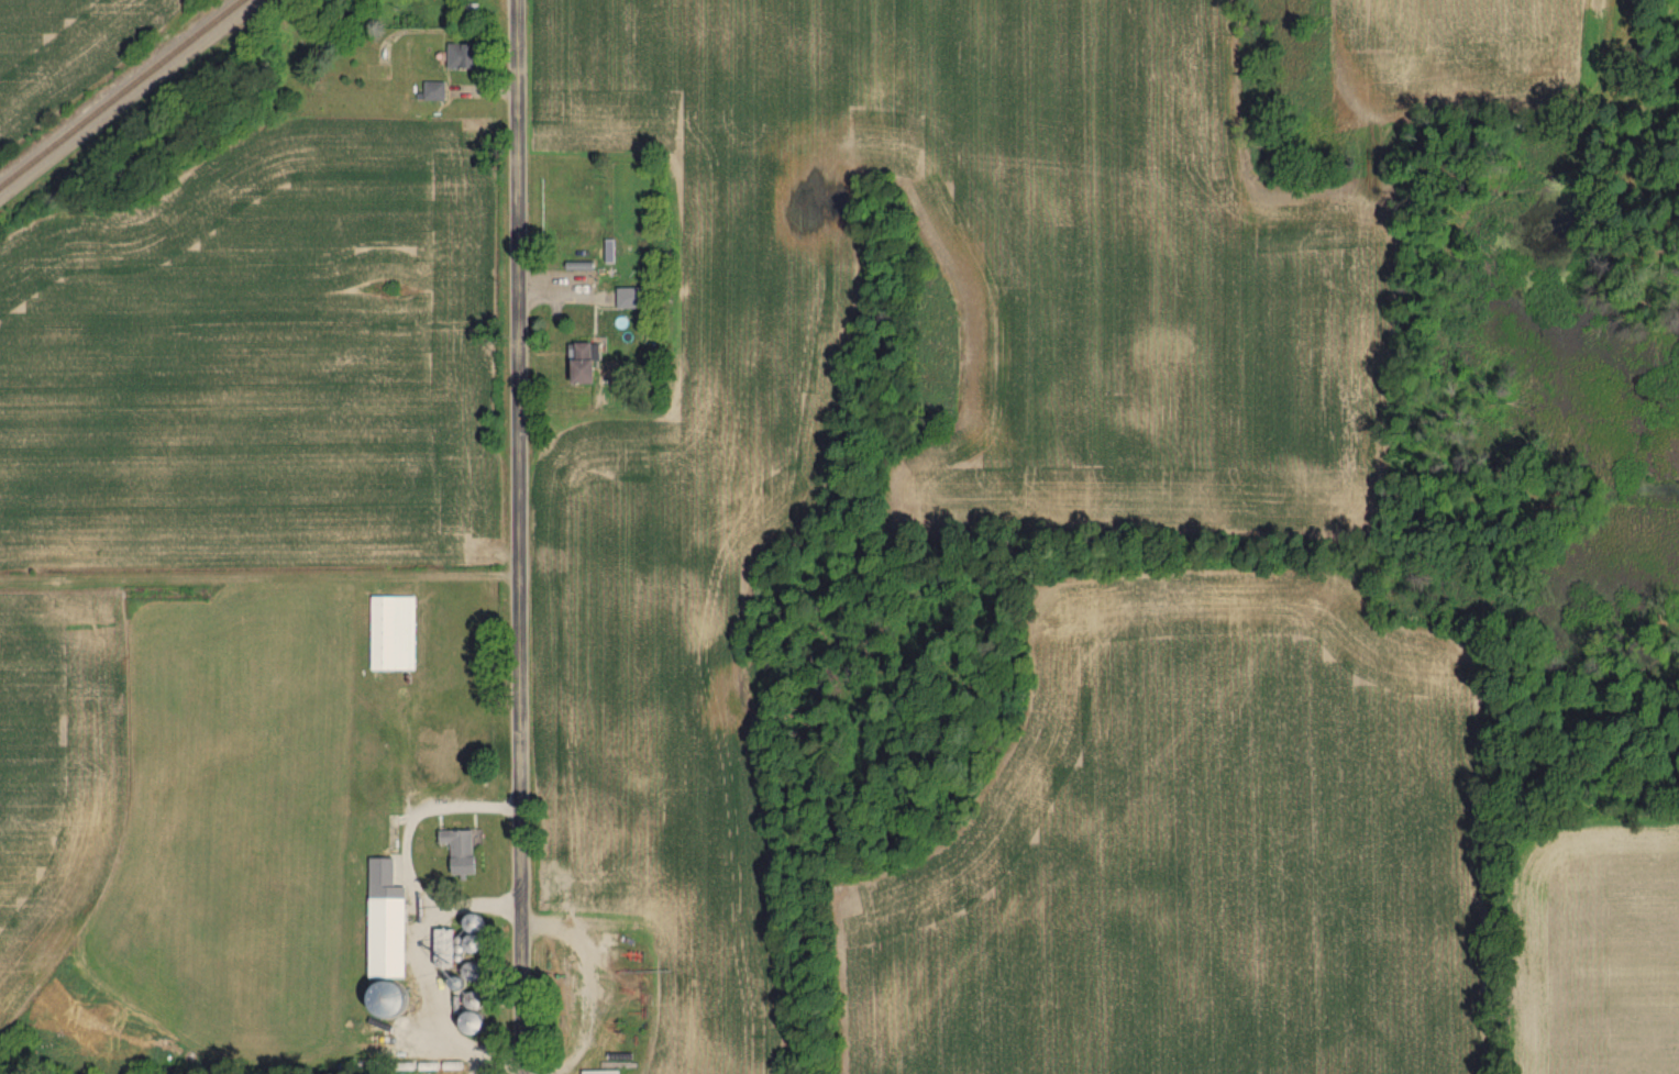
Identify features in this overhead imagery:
building: (471, 8)
building: (455, 58)
building: (435, 93)
railway: (122, 96)
building: (633, 299)
building: (589, 364)
road: (517, 536)
building: (395, 634)
building: (439, 753)
building: (463, 852)
road: (406, 854)
building: (390, 939)
building: (450, 949)
road: (441, 1005)

